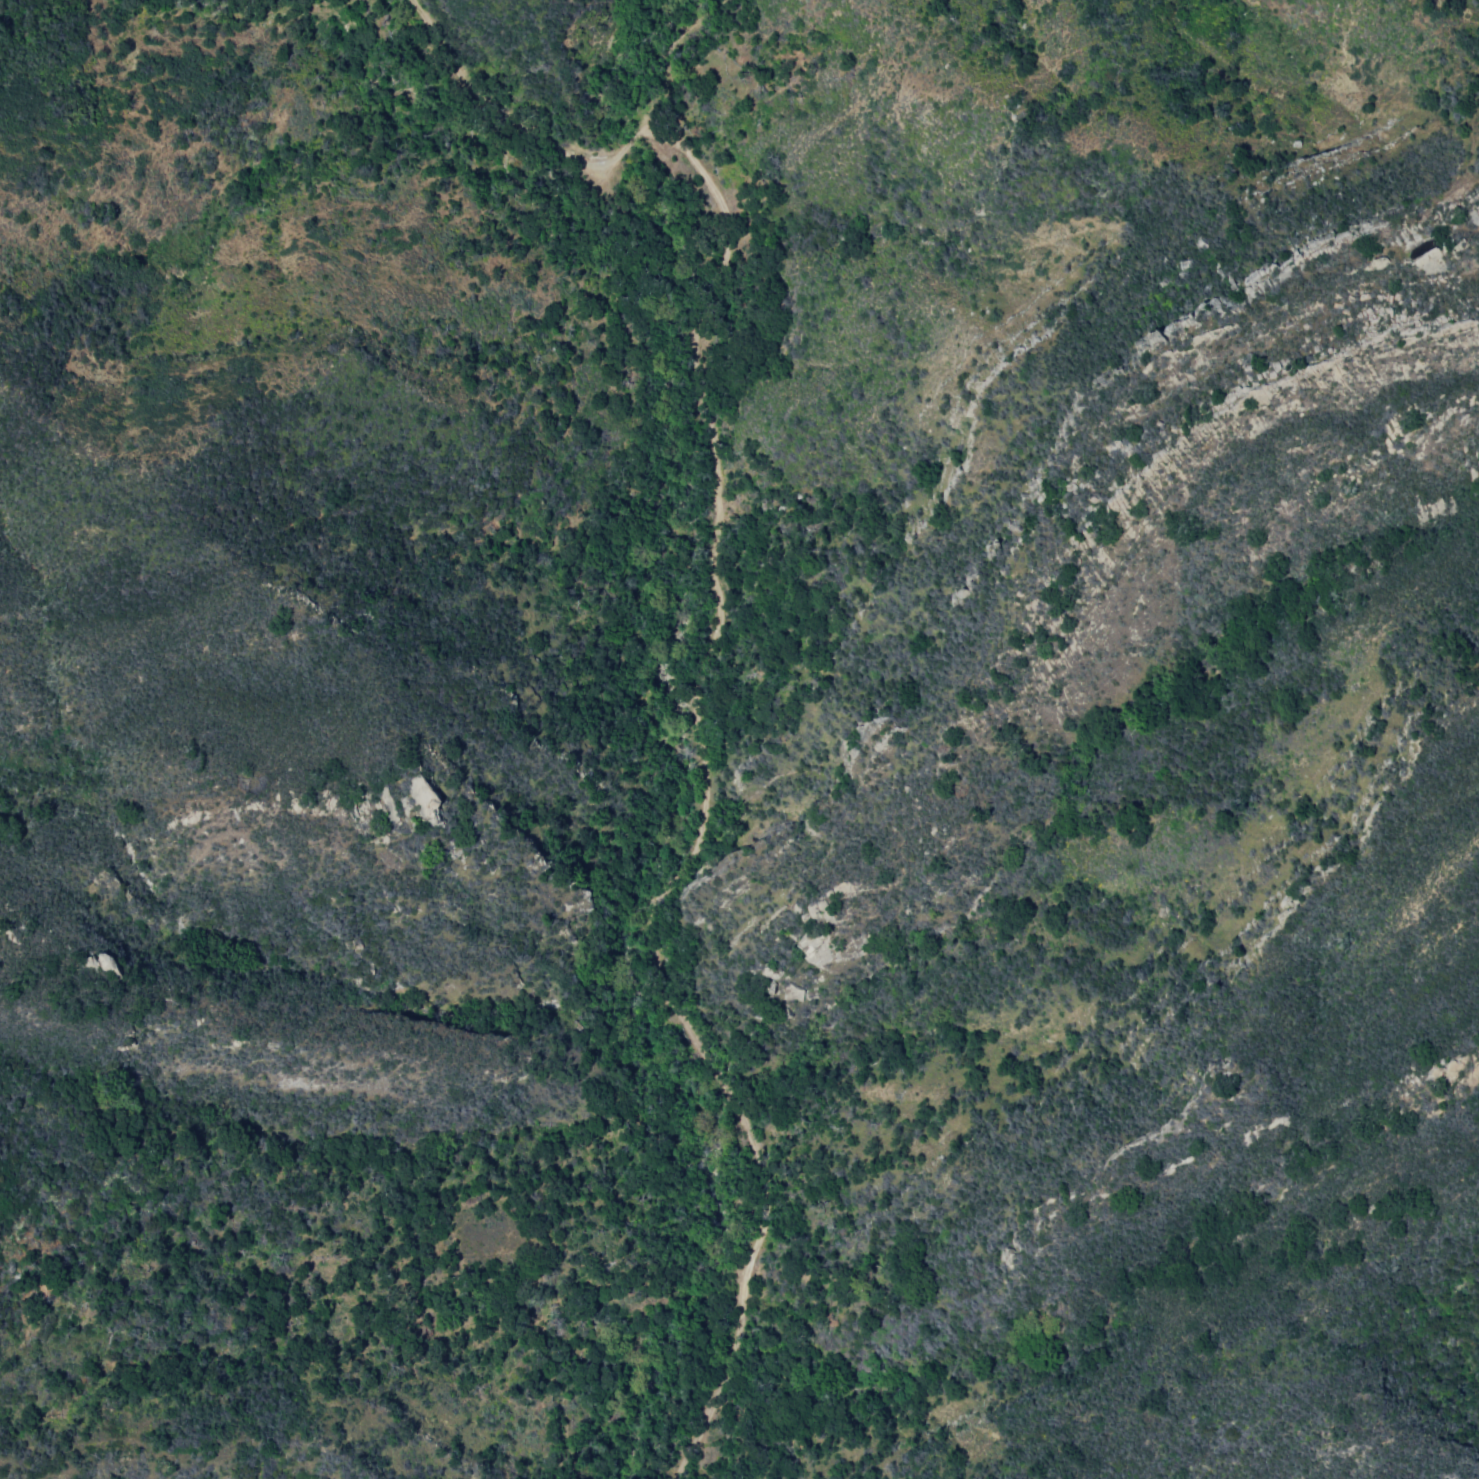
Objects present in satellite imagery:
road: (646, 76)
road: (533, 139)
road: (697, 835)

